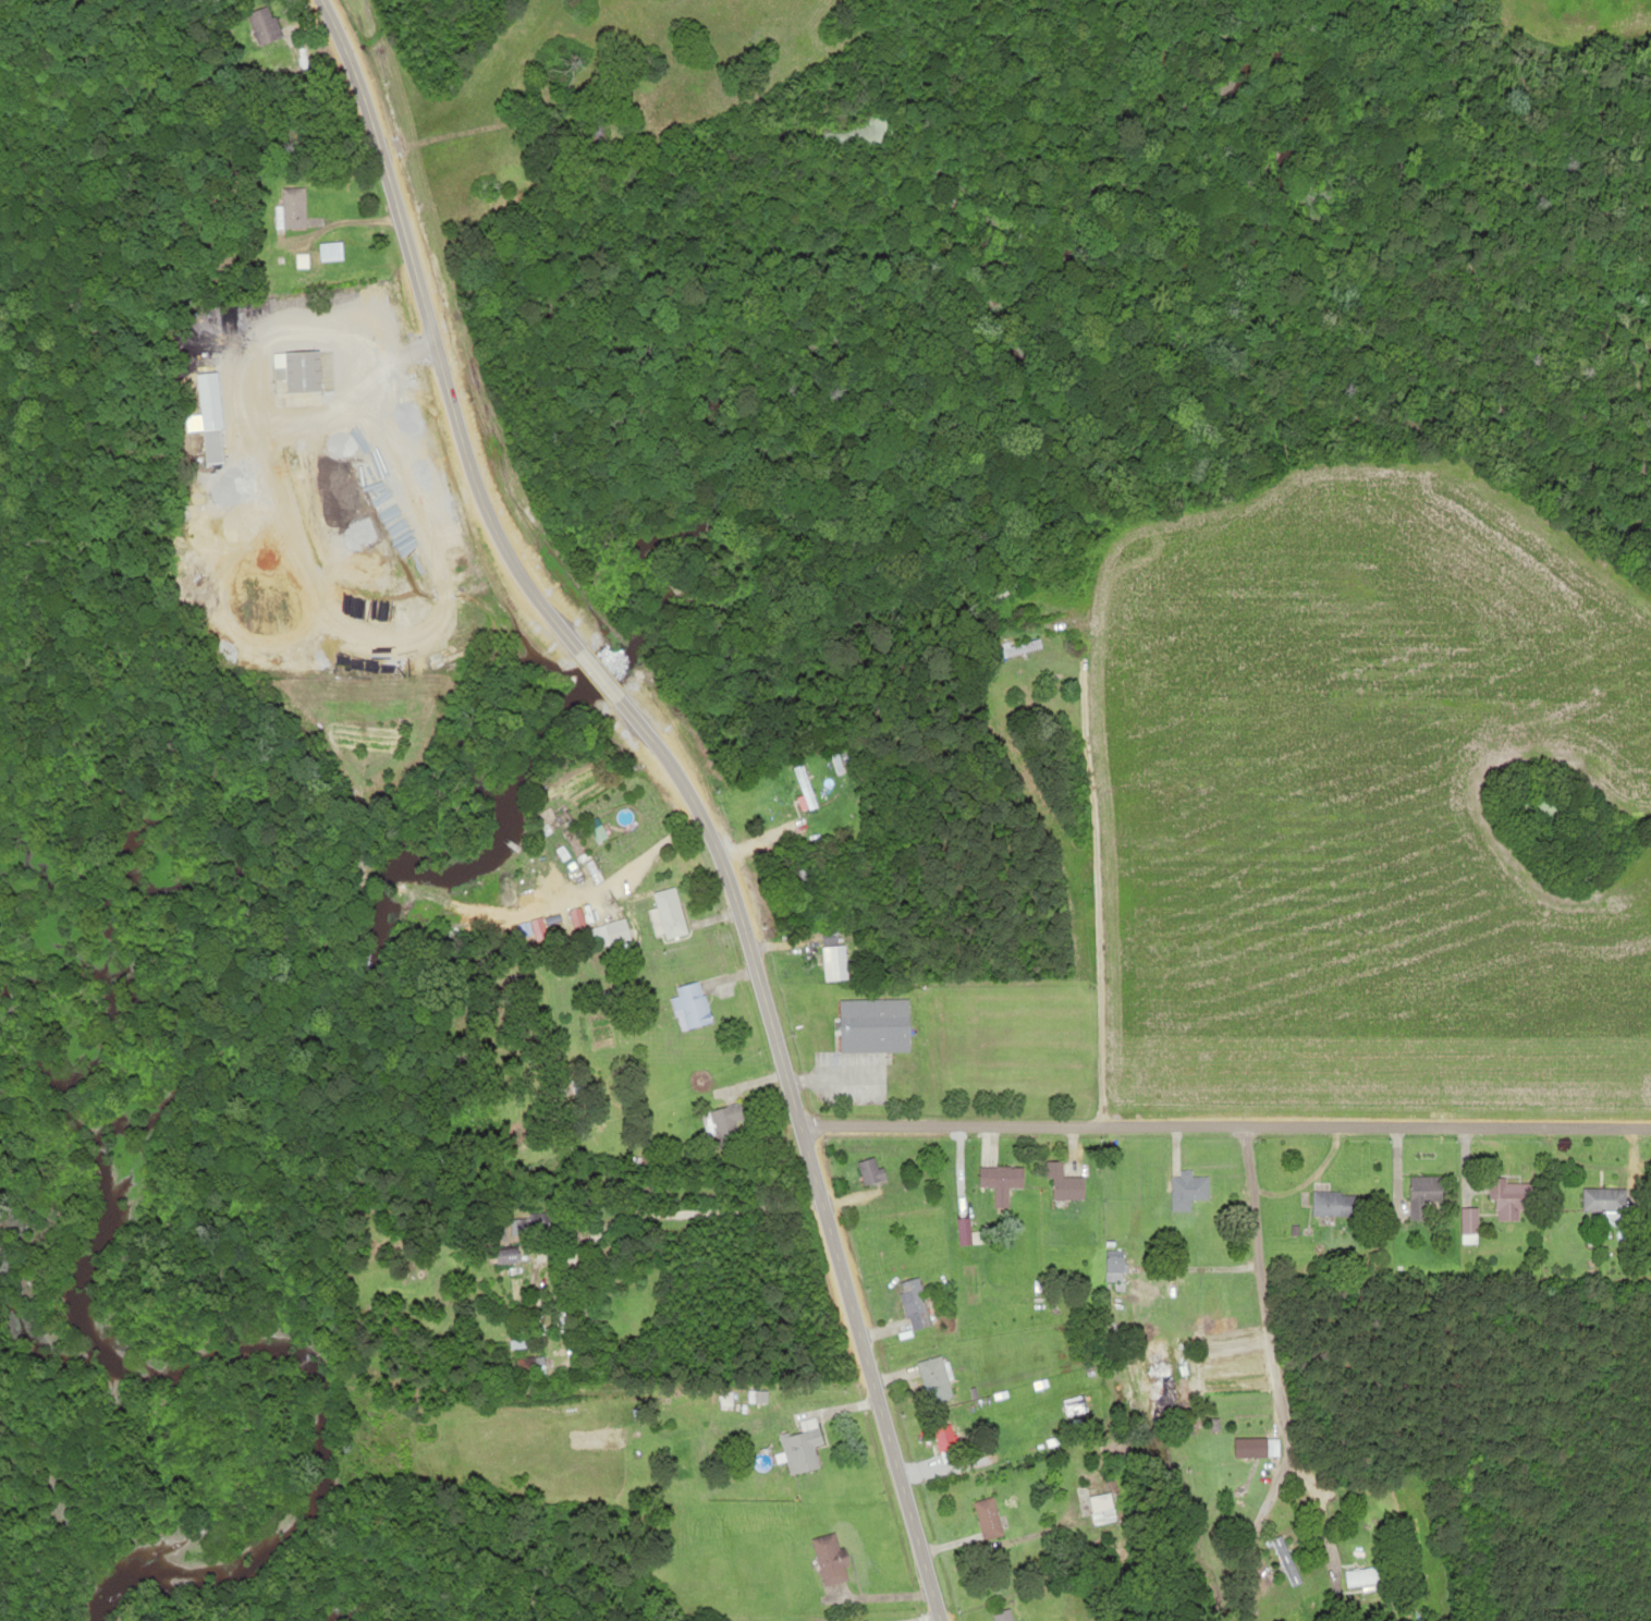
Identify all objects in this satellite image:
crop: (1591, 15)
building: (261, 25)
crop: (557, 76)
building: (290, 207)
building: (329, 251)
building: (302, 371)
building: (211, 446)
building: (1017, 649)
building: (834, 759)
road: (683, 782)
building: (803, 785)
crop: (1362, 785)
building: (596, 832)
road: (1083, 866)
building: (803, 885)
building: (668, 913)
building: (615, 930)
building: (834, 962)
building: (692, 1004)
building: (872, 1025)
road: (945, 1120)
road: (1371, 1120)
building: (723, 1128)
building: (869, 1171)
building: (1004, 1178)
building: (1066, 1187)
building: (1200, 1189)
building: (1427, 1192)
building: (1181, 1195)
building: (1512, 1197)
building: (1332, 1202)
building: (1606, 1202)
building: (542, 1223)
building: (1468, 1224)
building: (507, 1256)
building: (1111, 1266)
building: (914, 1302)
building: (531, 1366)
road: (1274, 1370)
building: (931, 1377)
building: (622, 1403)
building: (1076, 1403)
building: (943, 1442)
building: (1247, 1447)
building: (798, 1450)
building: (1097, 1508)
building: (1409, 1515)
building: (985, 1518)
building: (1282, 1558)
building: (825, 1559)
building: (1361, 1571)
building: (998, 1614)
building: (810, 1620)

